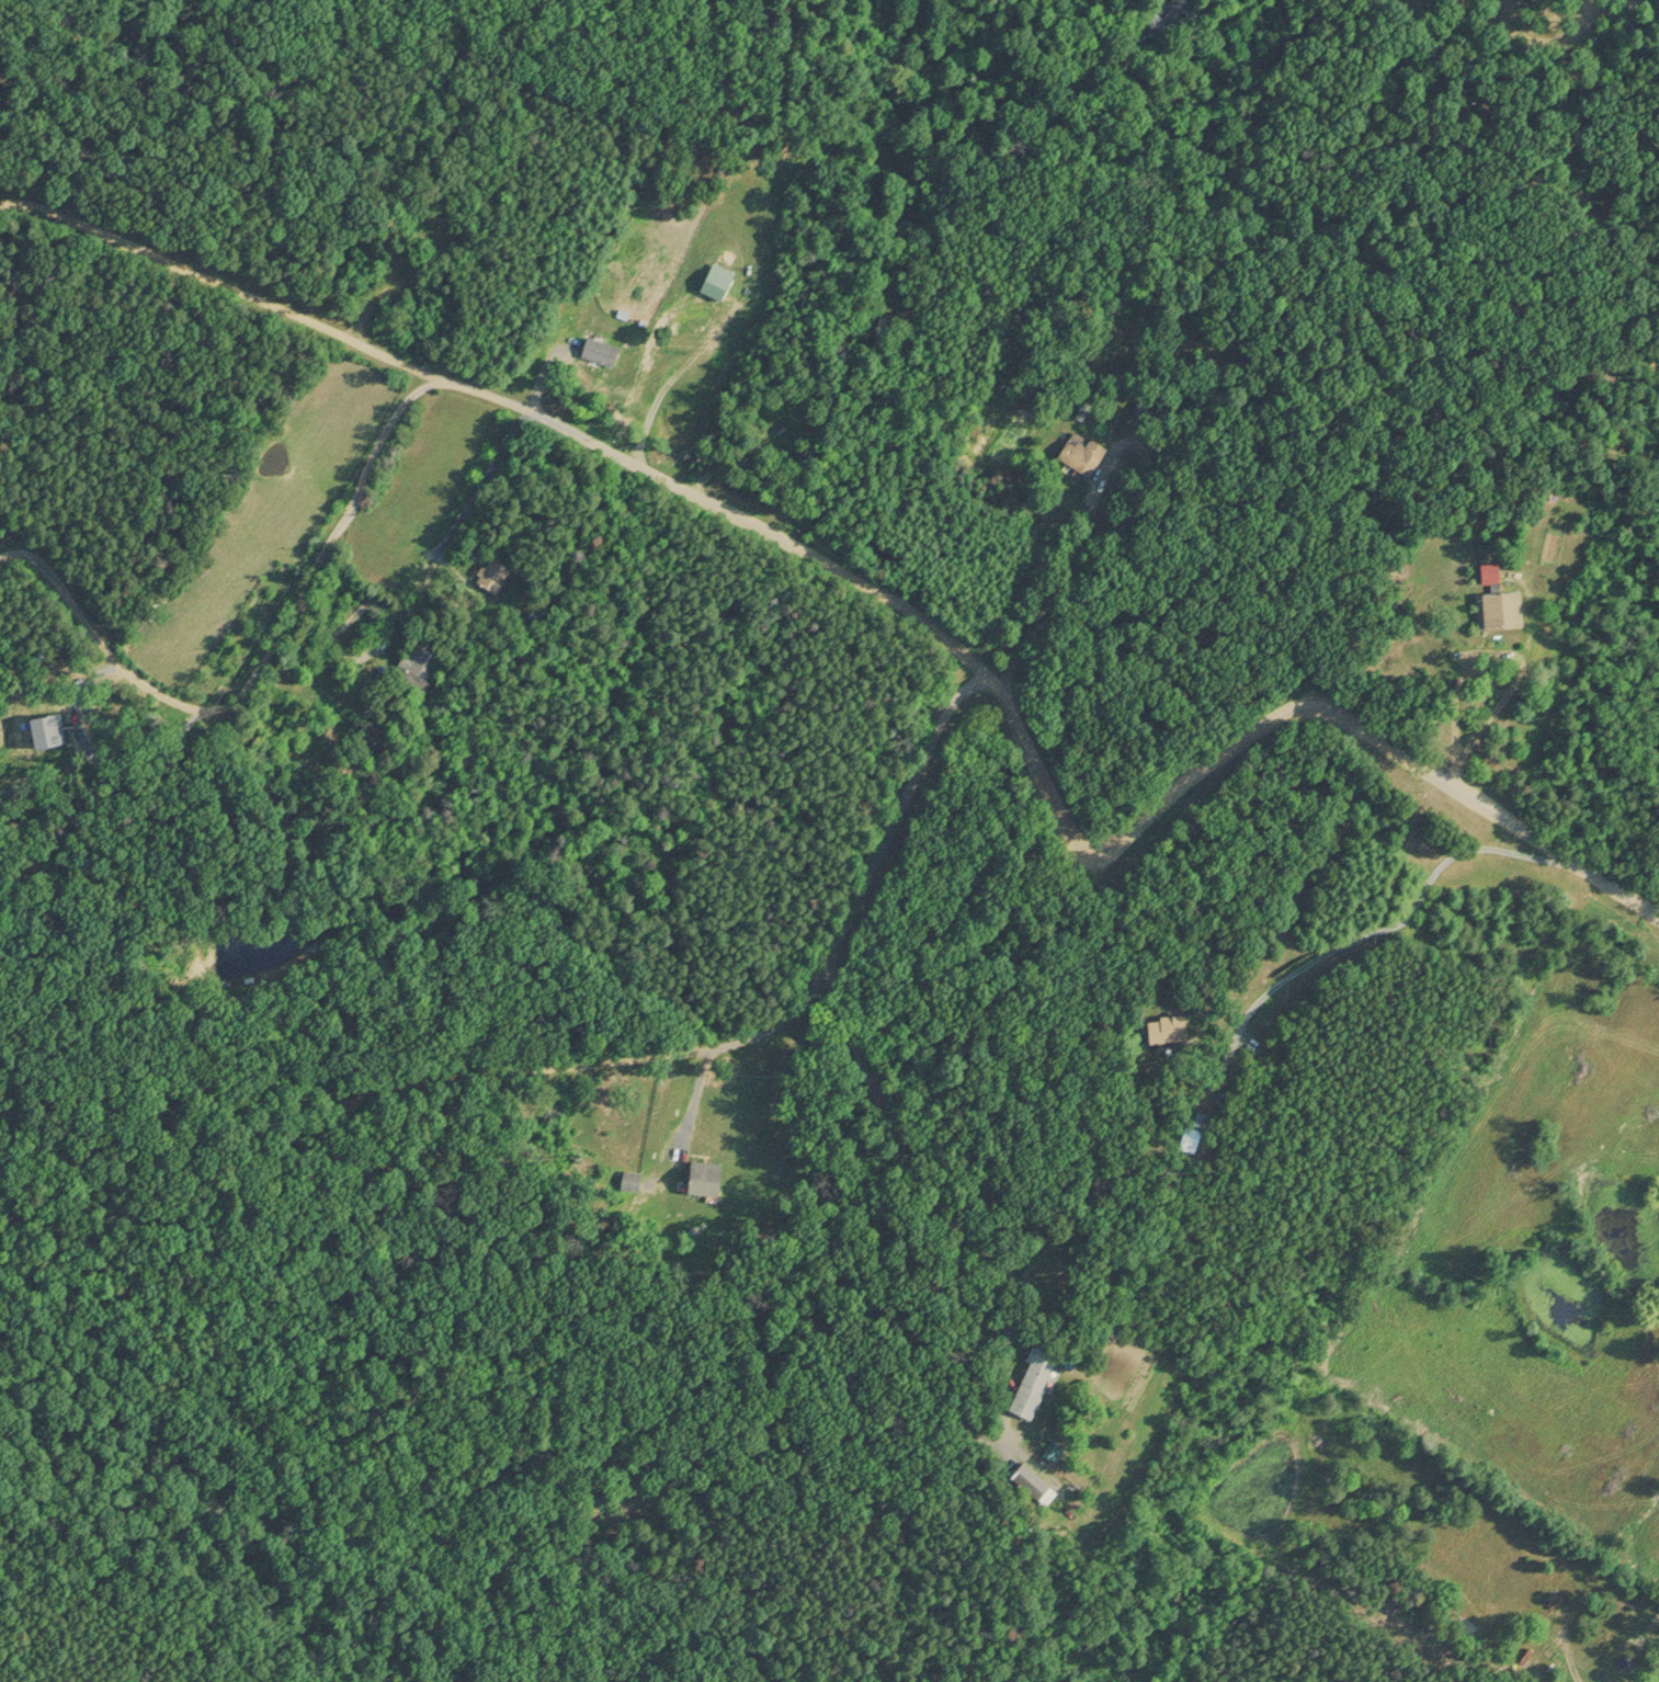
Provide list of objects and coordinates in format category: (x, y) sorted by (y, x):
road: (211, 281)
building: (600, 348)
building: (1080, 451)
road: (478, 479)
building: (493, 571)
building: (1498, 605)
building: (416, 652)
road: (251, 671)
road: (1044, 775)
road: (1375, 932)
road: (771, 1027)
road: (688, 1101)
building: (704, 1167)
road: (916, 1192)
building: (1031, 1377)
building: (1029, 1477)

